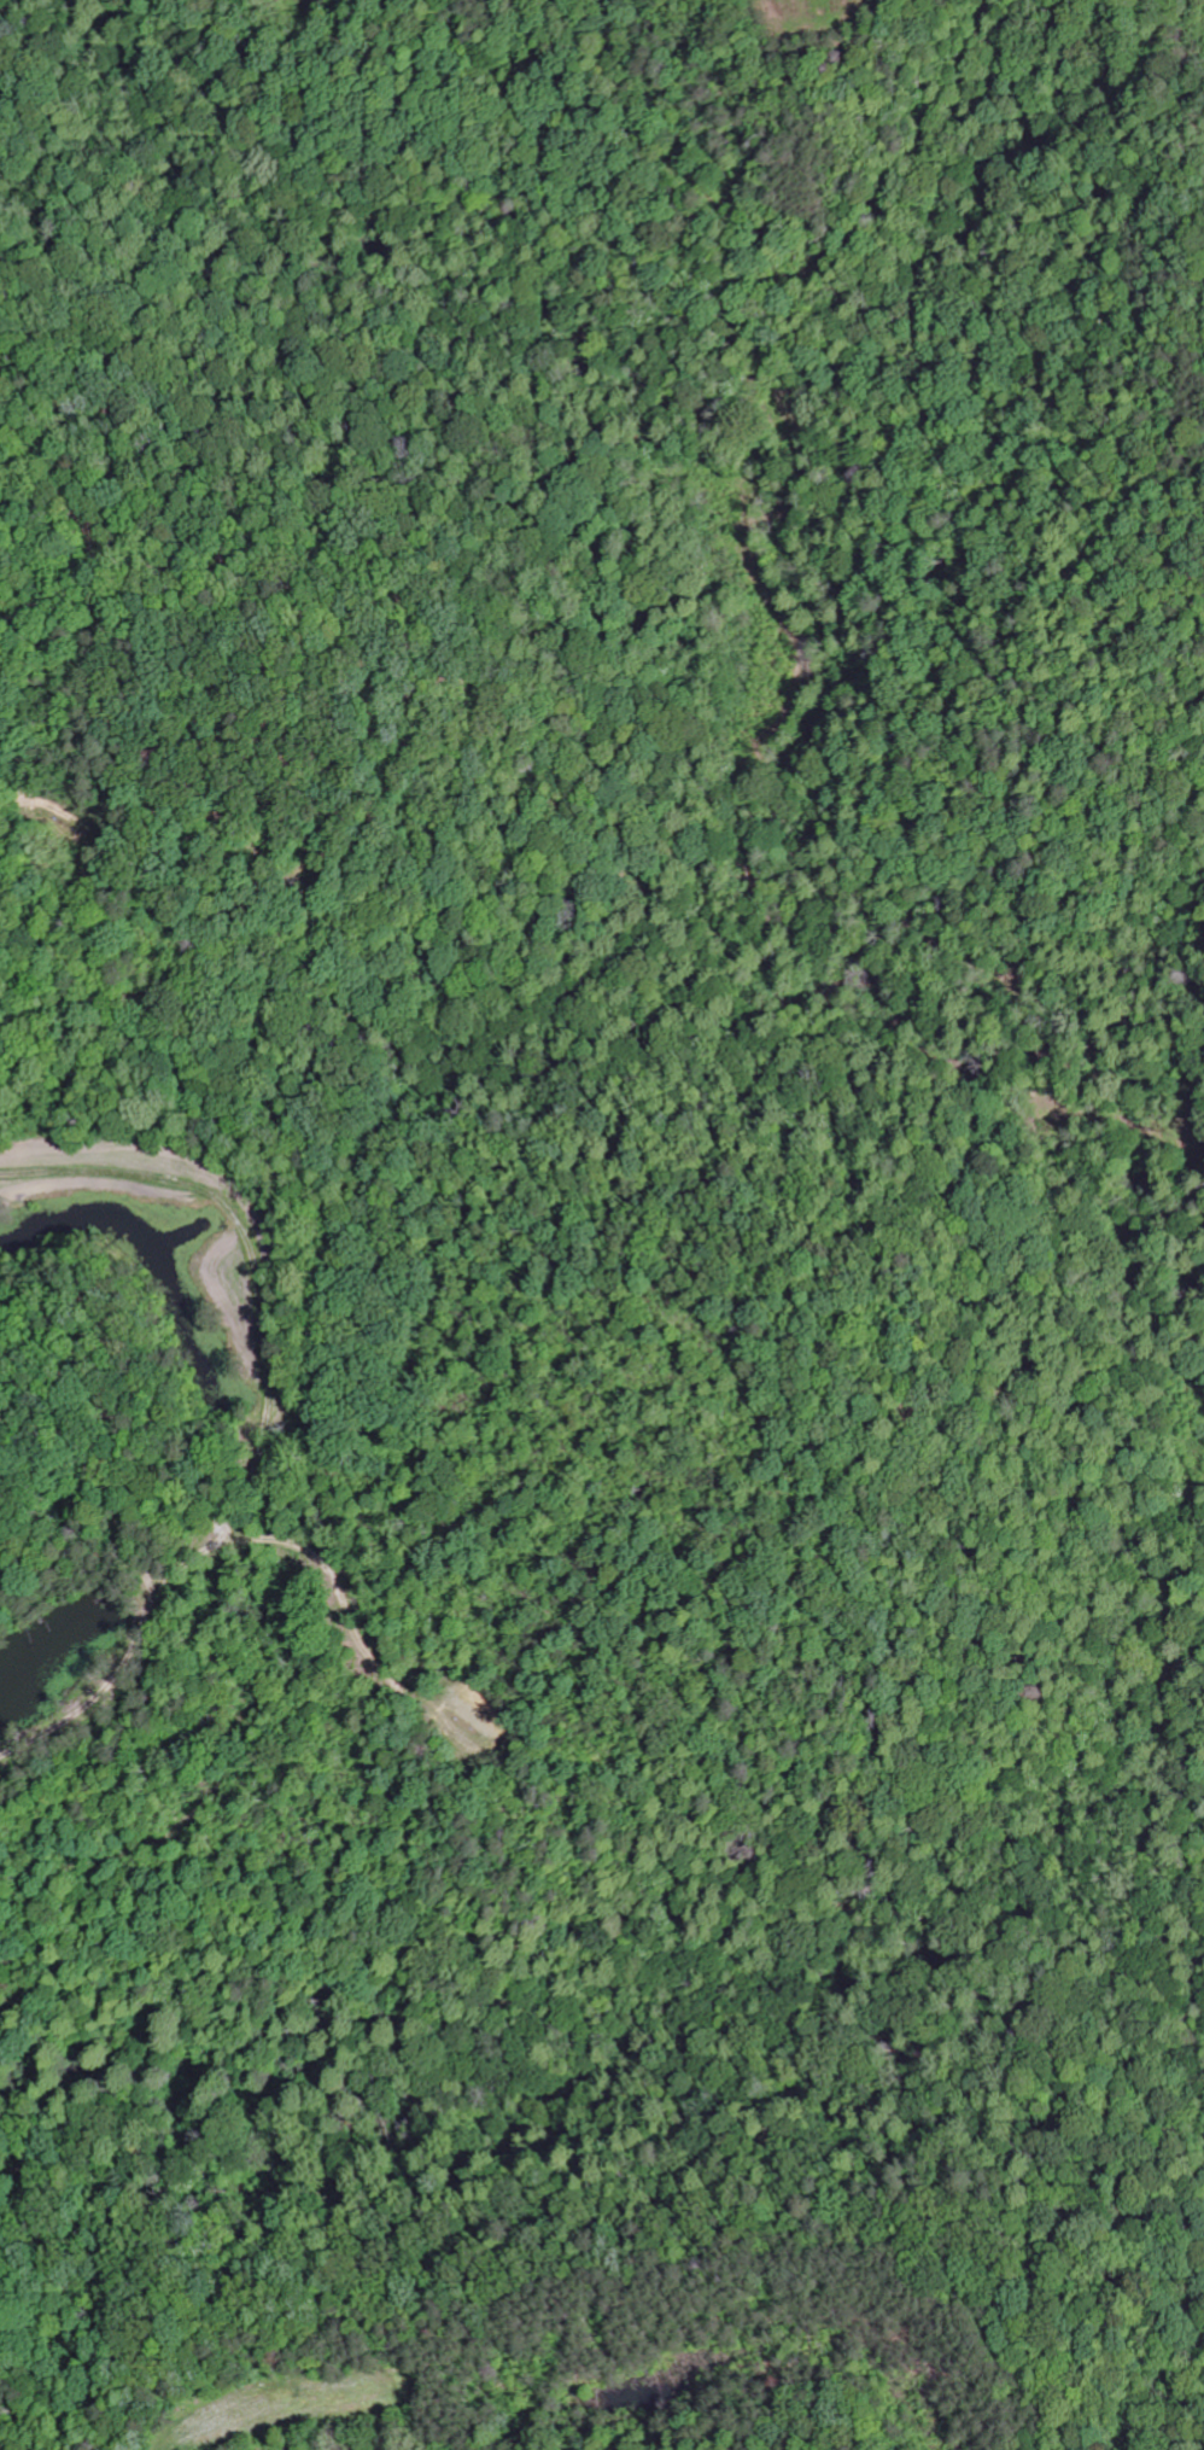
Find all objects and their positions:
road: (27, 803)
road: (257, 1258)
road: (198, 1551)

